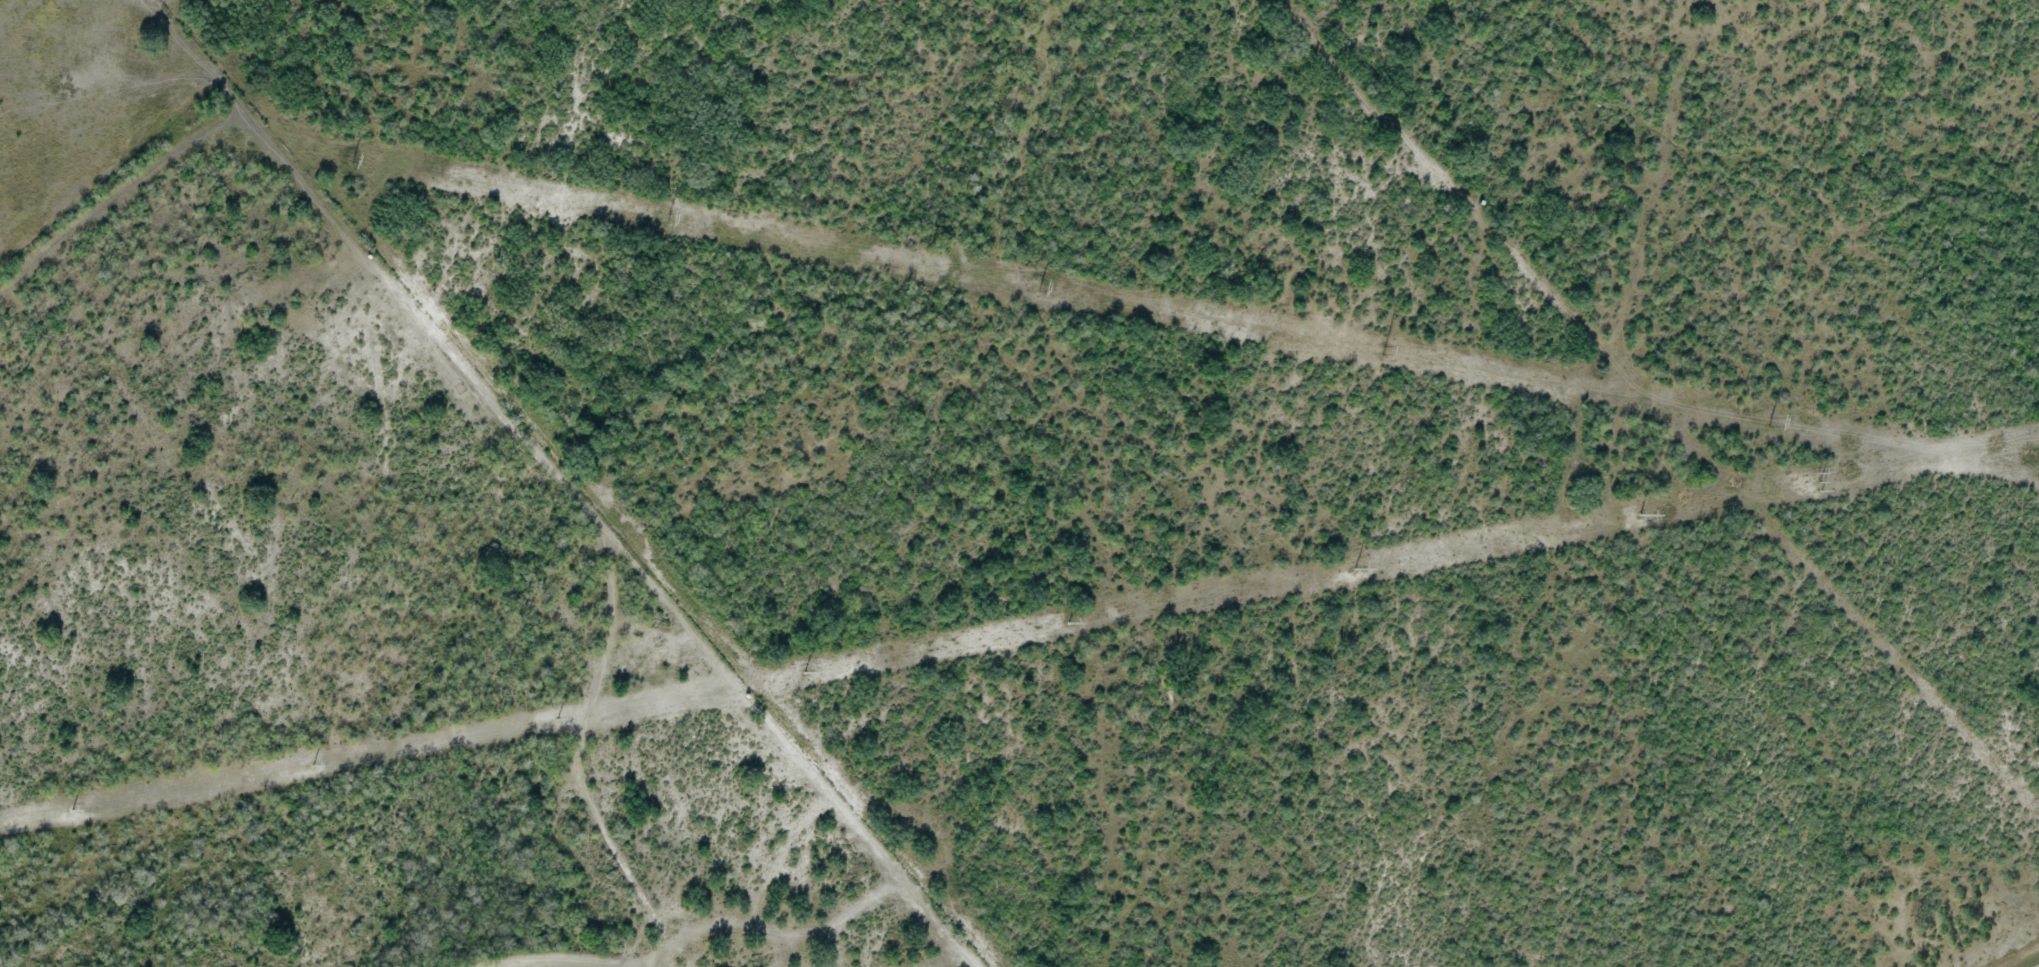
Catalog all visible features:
power tower: (352, 160)
power tower: (669, 219)
power tower: (1038, 288)
power tower: (1382, 352)
power tower: (1768, 424)
power tower: (1819, 477)
road: (561, 482)
power tower: (1639, 515)
power tower: (1355, 569)
power tower: (1070, 622)
power tower: (805, 672)
power tower: (558, 718)
power tower: (313, 764)
power tower: (72, 811)

